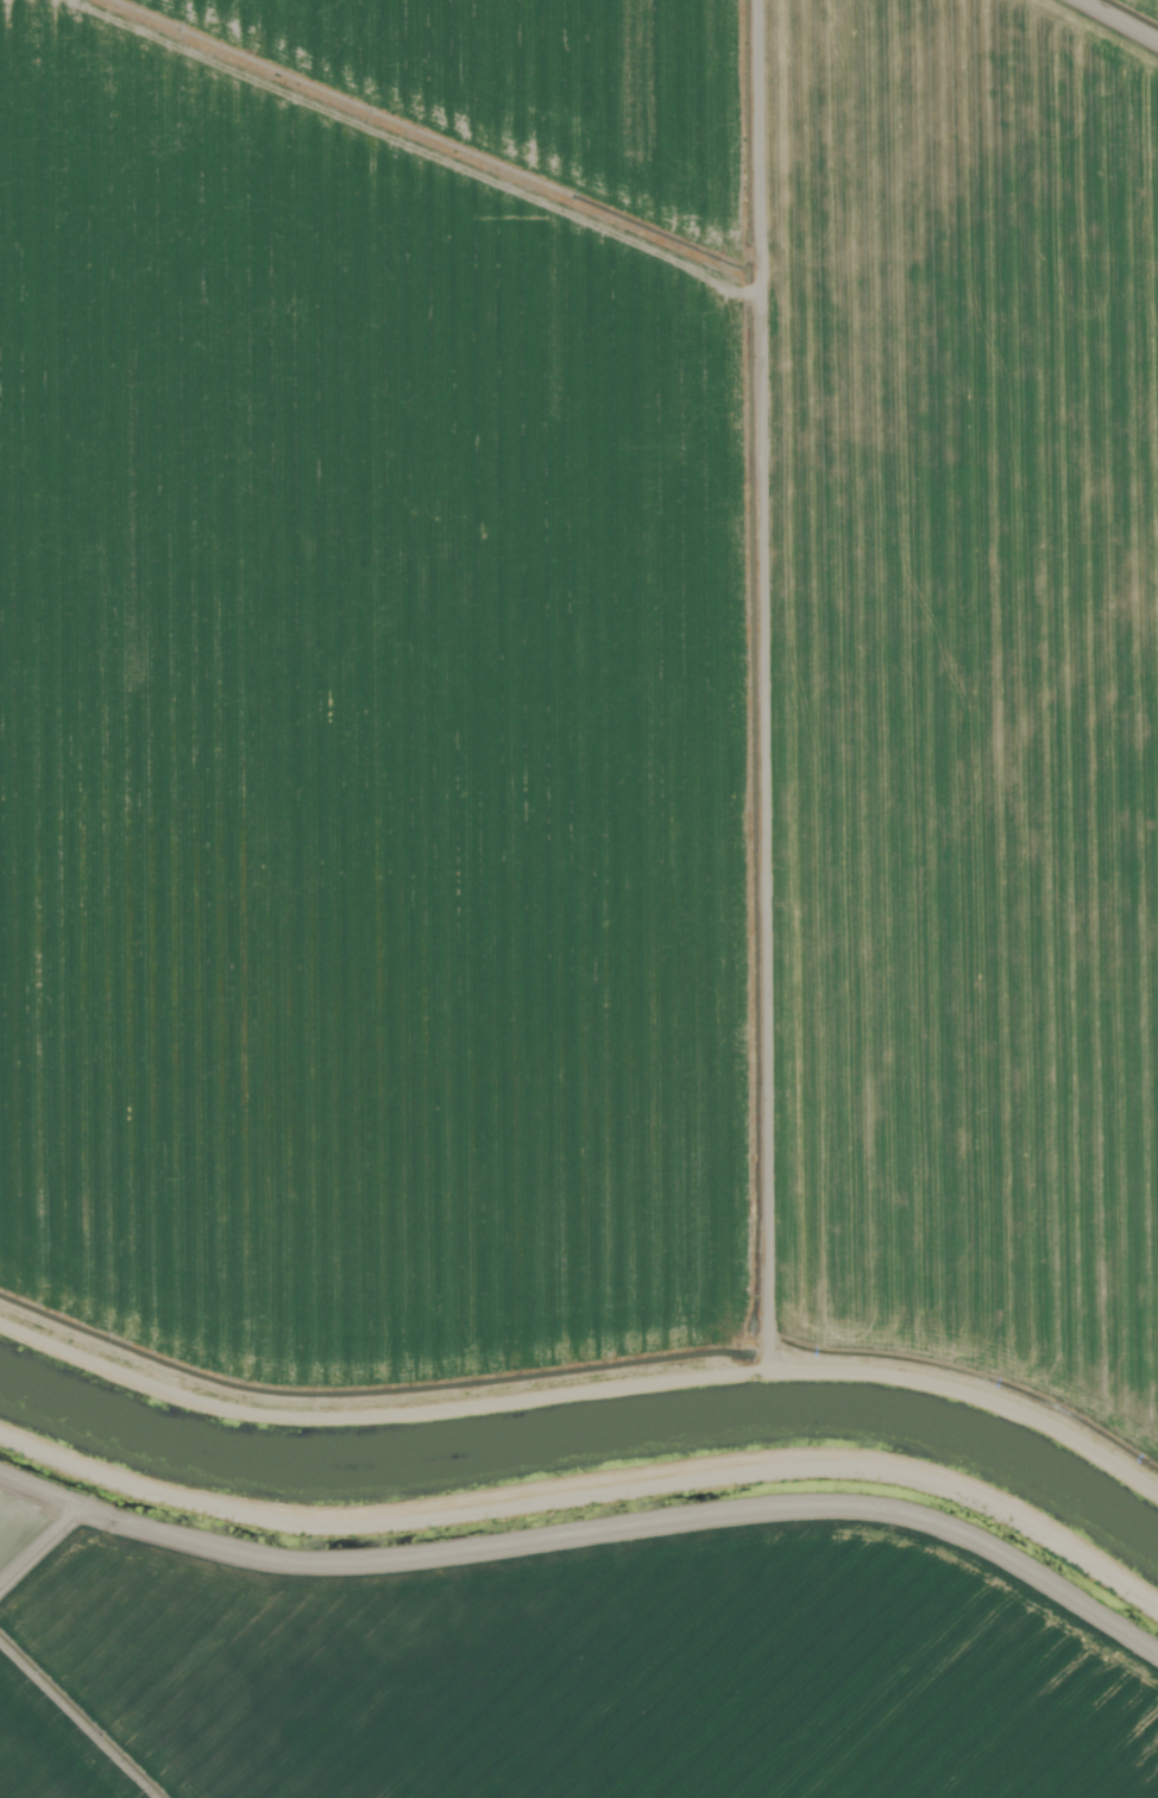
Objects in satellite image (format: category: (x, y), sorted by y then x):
road: (751, 637)
crop: (377, 694)
crop: (958, 697)
road: (589, 1295)
crop: (562, 1670)

